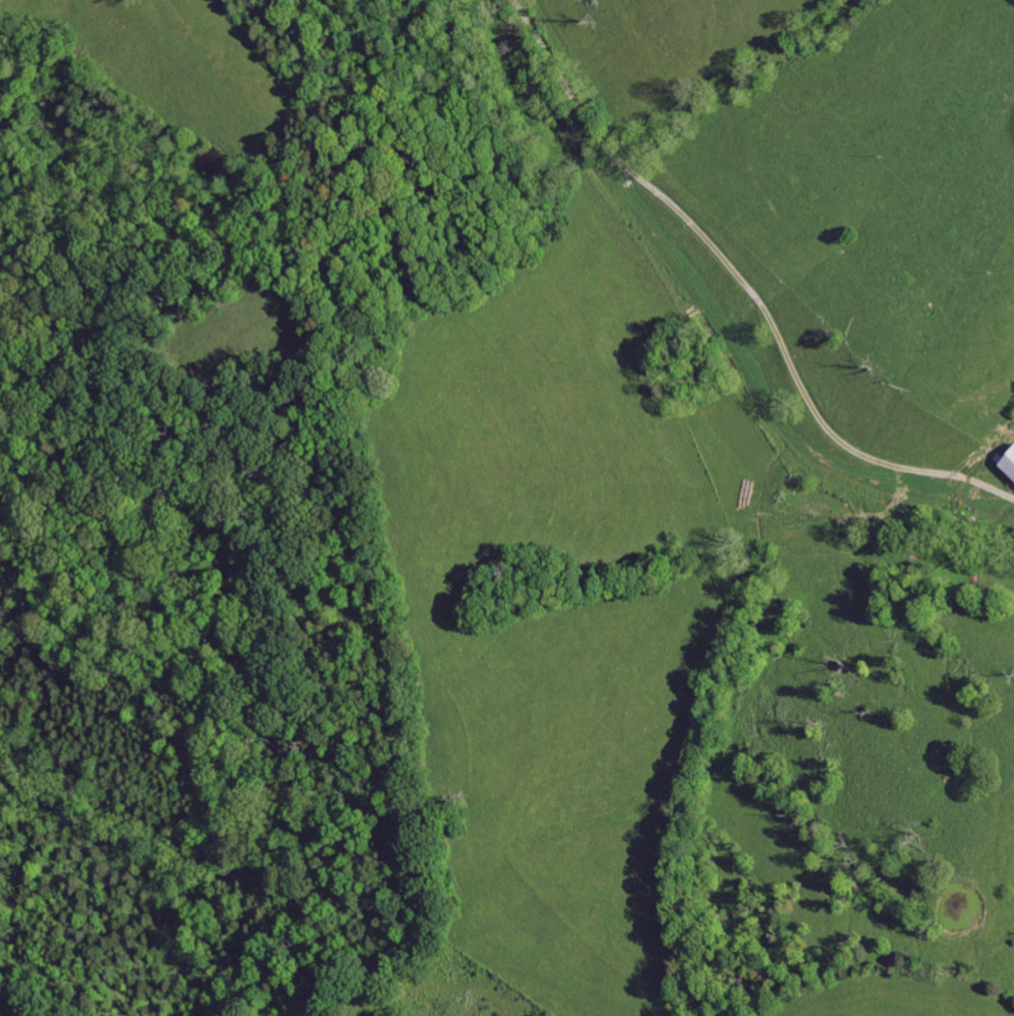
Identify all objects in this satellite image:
road: (718, 316)
building: (1005, 460)

